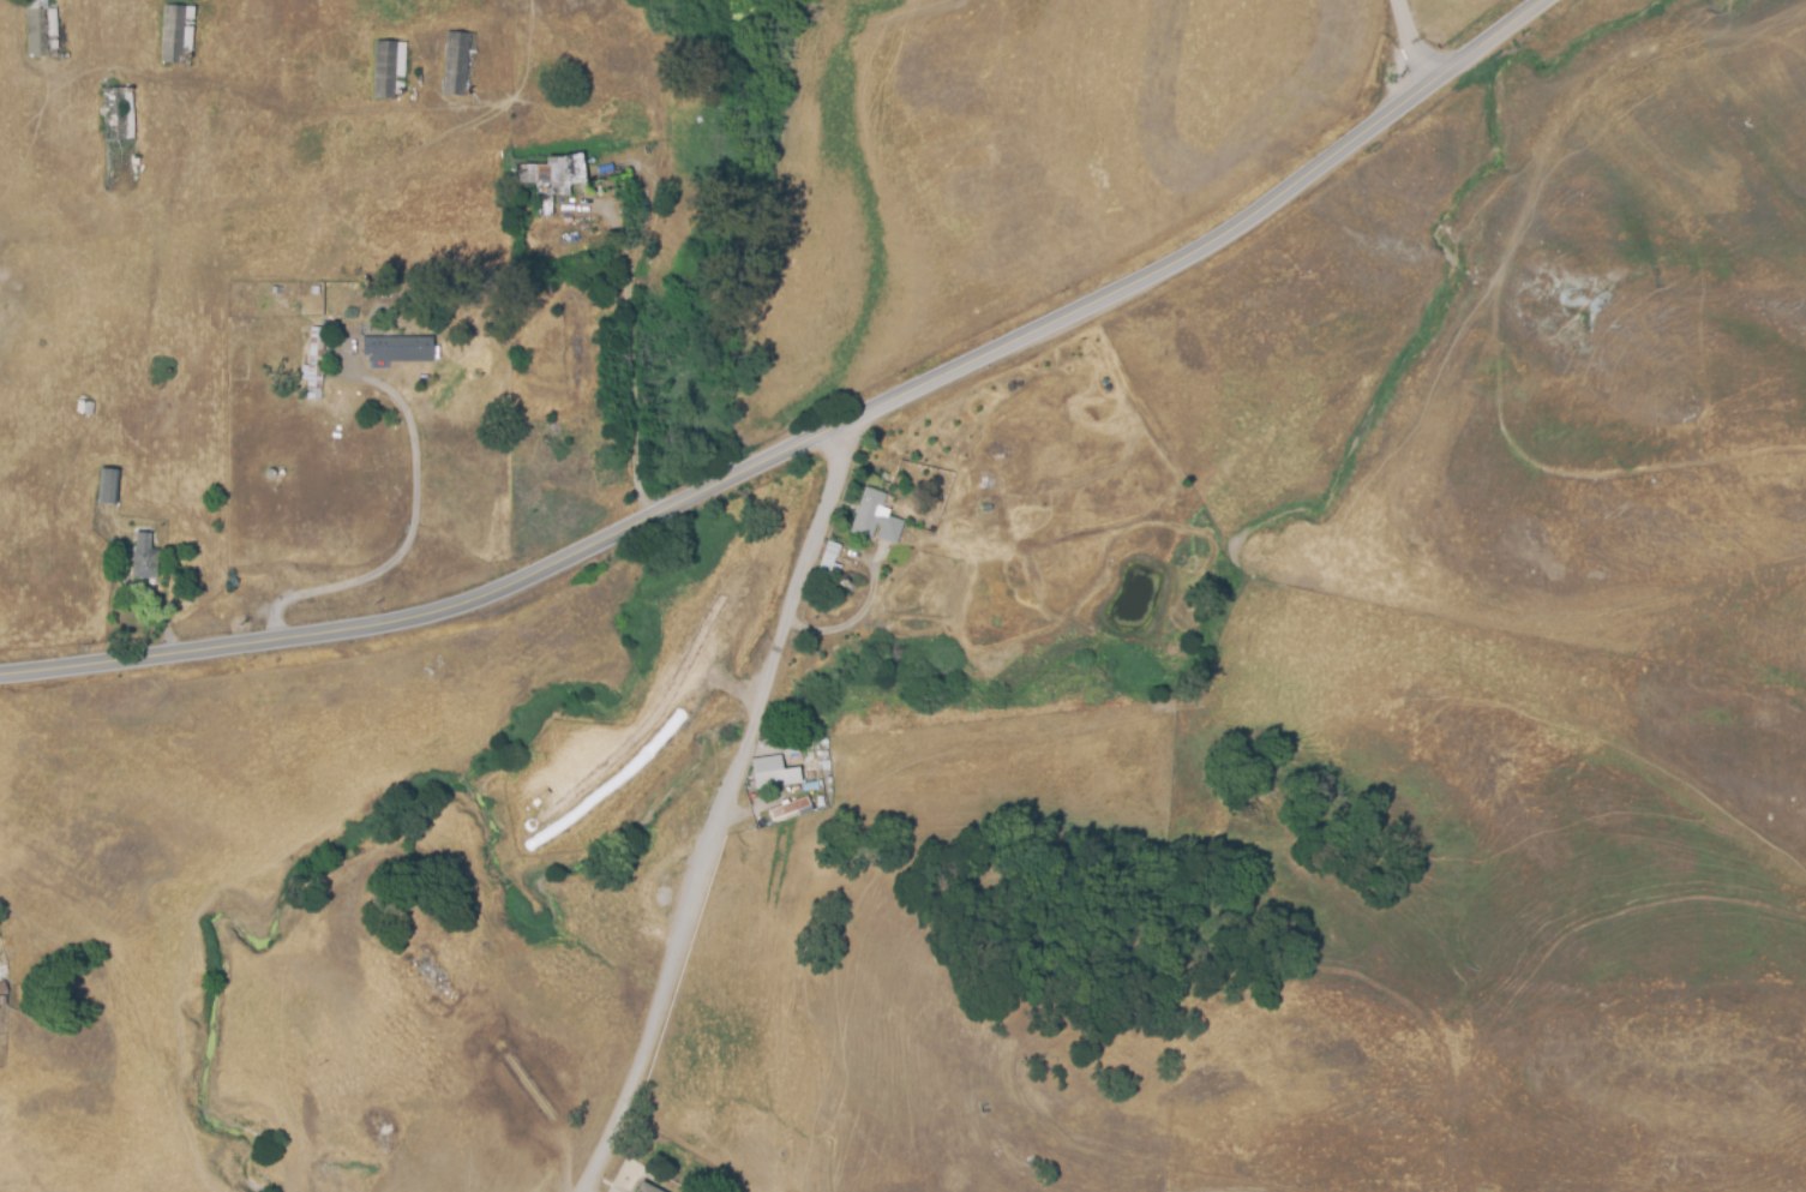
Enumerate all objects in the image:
building: (38, 28)
building: (173, 32)
road: (1416, 37)
building: (457, 64)
building: (385, 70)
building: (114, 112)
building: (553, 170)
road: (635, 342)
building: (402, 349)
building: (316, 364)
road: (812, 442)
building: (110, 486)
building: (876, 519)
road: (412, 532)
building: (145, 557)
building: (834, 569)
building: (793, 753)
building: (774, 773)
building: (791, 809)
road: (727, 810)
building: (382, 1131)
building: (647, 1188)

